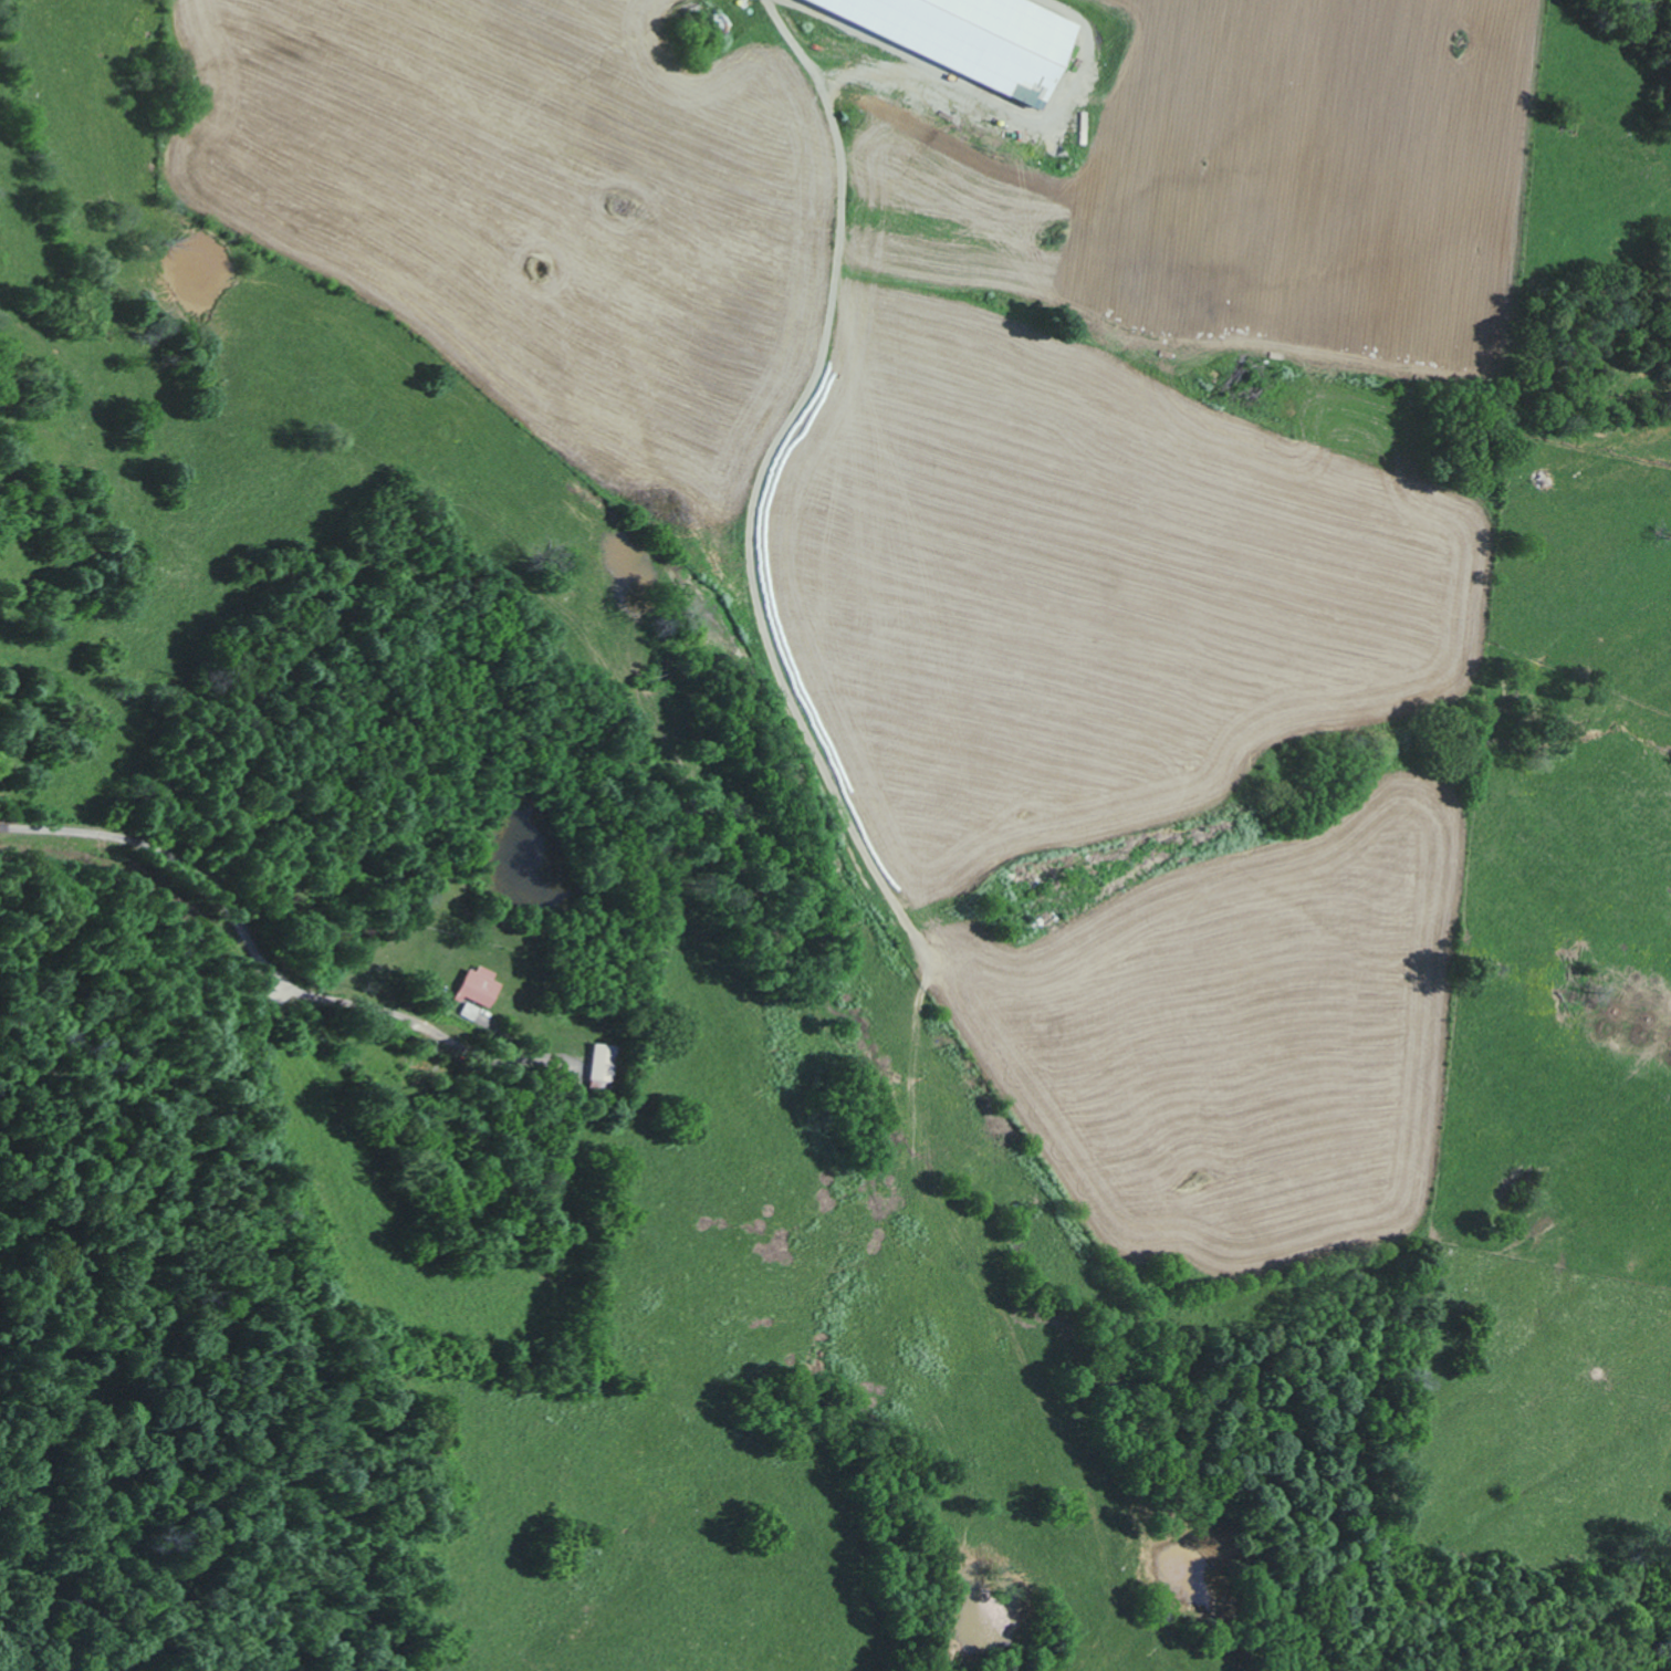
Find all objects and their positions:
road: (770, 10)
building: (973, 35)
road: (165, 853)
building: (477, 985)
road: (366, 1004)
building: (600, 1066)

